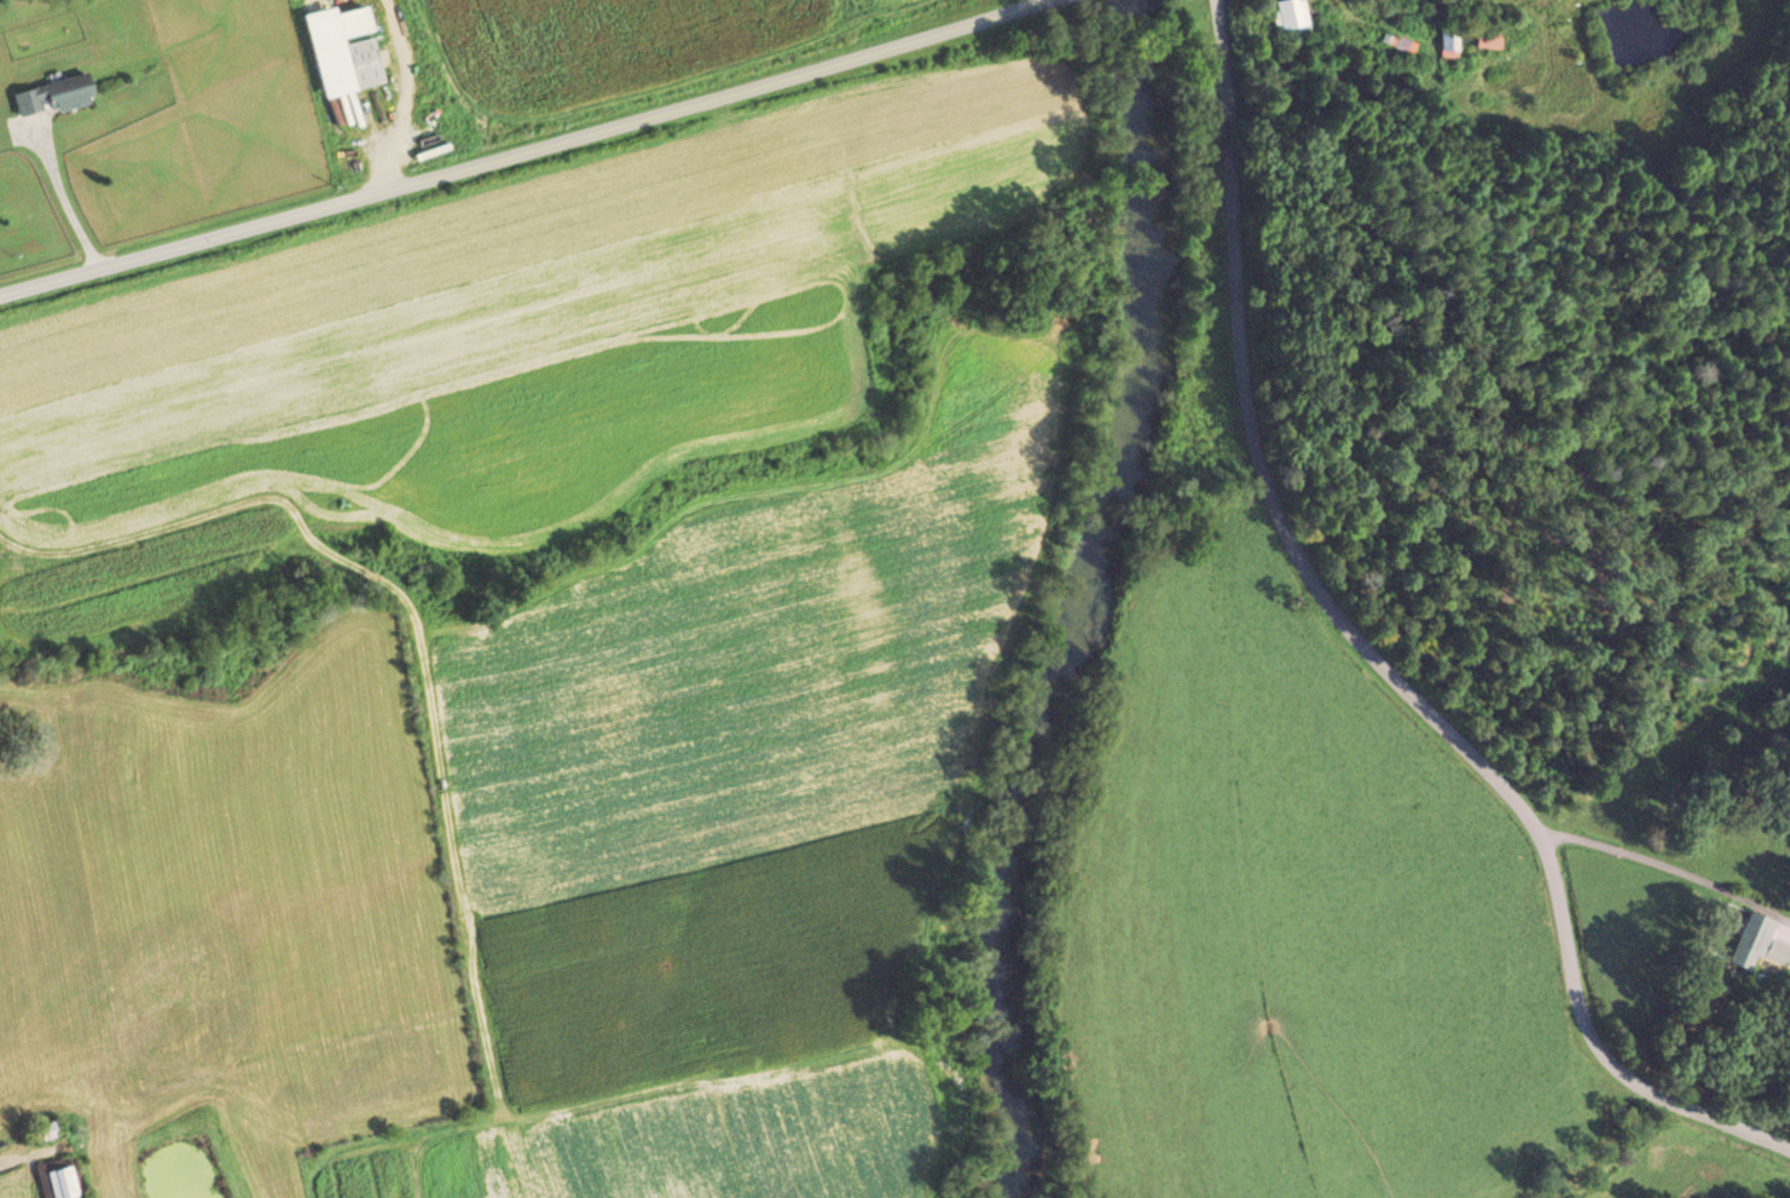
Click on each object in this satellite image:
building: (1487, 40)
building: (1449, 42)
building: (1406, 45)
building: (344, 50)
building: (57, 93)
river: (1162, 141)
road: (516, 151)
road: (1372, 652)
river: (1056, 739)
road: (1668, 857)
building: (1750, 943)
building: (59, 1179)

